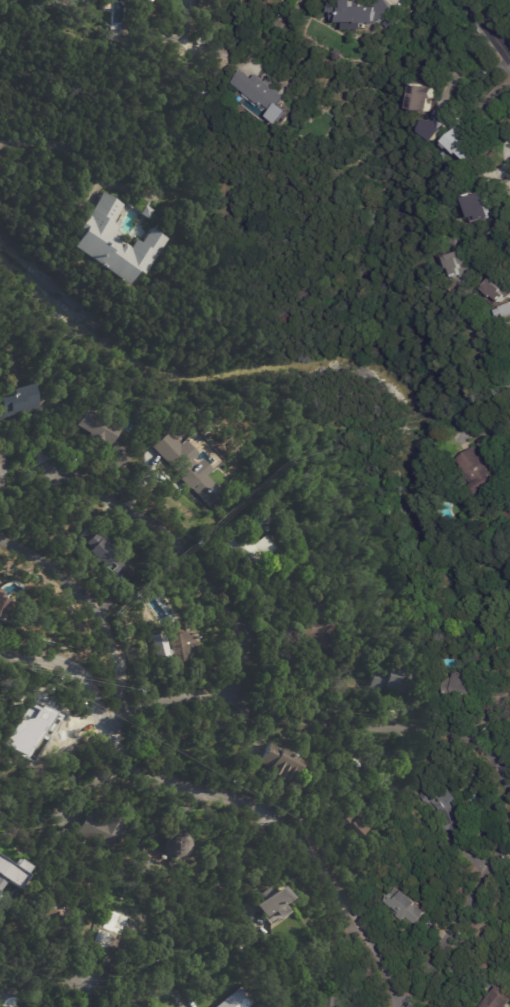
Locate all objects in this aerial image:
building: (105, 0)
building: (360, 13)
road: (485, 30)
building: (259, 91)
building: (419, 100)
building: (277, 119)
building: (435, 129)
building: (464, 144)
road: (64, 147)
building: (480, 209)
building: (146, 213)
building: (114, 243)
building: (462, 264)
building: (499, 287)
building: (503, 310)
road: (474, 345)
building: (20, 398)
building: (102, 429)
building: (1, 457)
building: (477, 470)
building: (190, 472)
building: (1, 482)
road: (163, 529)
building: (253, 548)
building: (102, 551)
building: (0, 591)
building: (4, 608)
road: (94, 612)
building: (192, 619)
building: (318, 624)
road: (249, 625)
building: (181, 642)
building: (160, 645)
building: (367, 666)
building: (393, 680)
building: (465, 688)
road: (306, 715)
building: (36, 731)
road: (504, 747)
building: (284, 763)
building: (332, 788)
road: (220, 793)
building: (440, 806)
building: (356, 818)
building: (107, 830)
building: (177, 846)
road: (245, 856)
road: (477, 883)
building: (273, 902)
building: (401, 907)
building: (51, 914)
building: (111, 929)
road: (40, 960)
building: (5, 995)
building: (318, 995)
building: (232, 999)
building: (496, 999)

